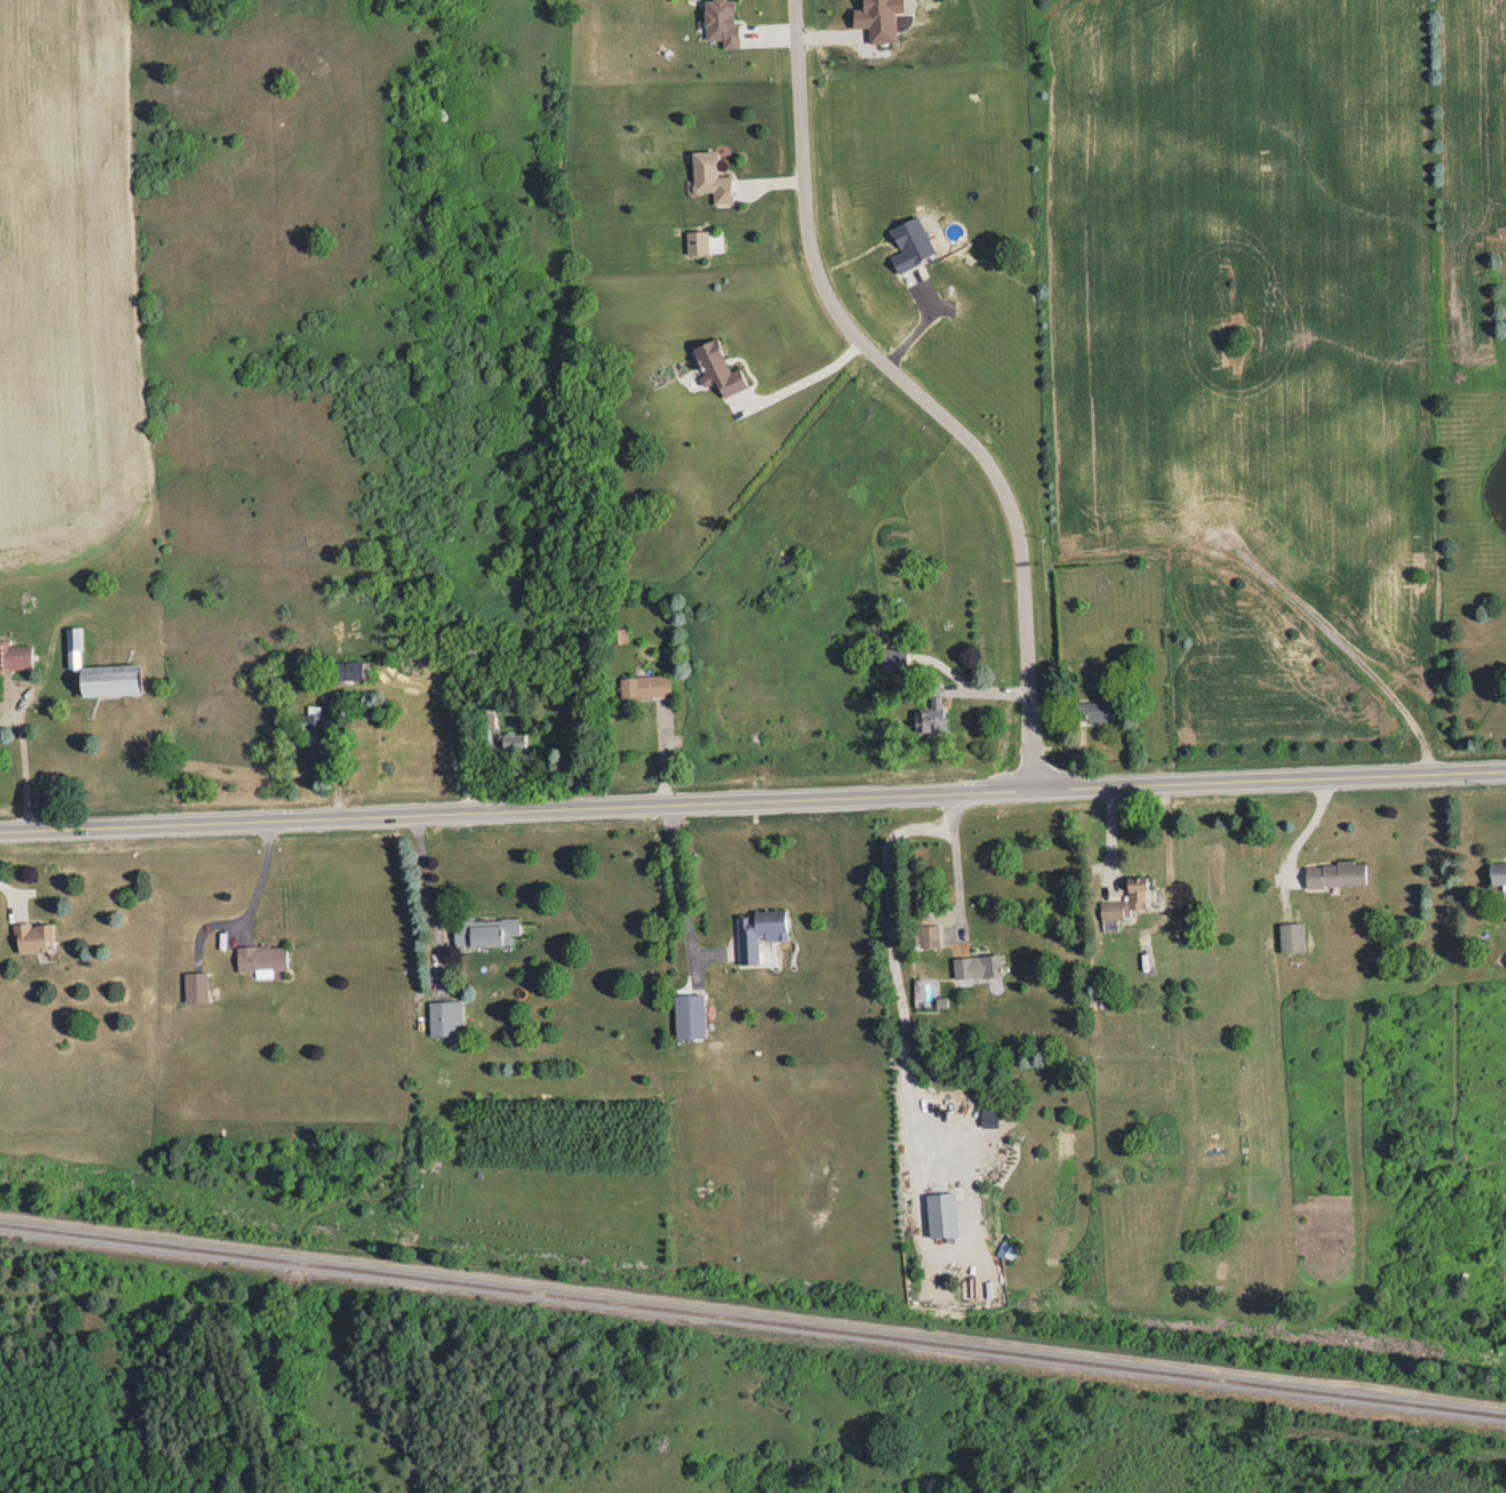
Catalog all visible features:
building: (708, 177)
building: (716, 368)
road: (802, 383)
road: (917, 391)
building: (618, 635)
building: (477, 652)
building: (14, 656)
building: (348, 670)
building: (98, 673)
building: (642, 686)
road: (445, 700)
building: (928, 707)
building: (1093, 711)
building: (313, 729)
building: (511, 741)
road: (18, 773)
road: (753, 799)
road: (1306, 828)
road: (1107, 838)
road: (955, 862)
road: (426, 874)
building: (1333, 874)
building: (1496, 875)
road: (251, 876)
road: (679, 880)
building: (1122, 903)
building: (483, 932)
building: (756, 932)
building: (925, 936)
building: (30, 937)
building: (1288, 937)
building: (258, 958)
building: (975, 966)
building: (193, 987)
building: (687, 1016)
building: (442, 1017)
railway: (753, 1319)

